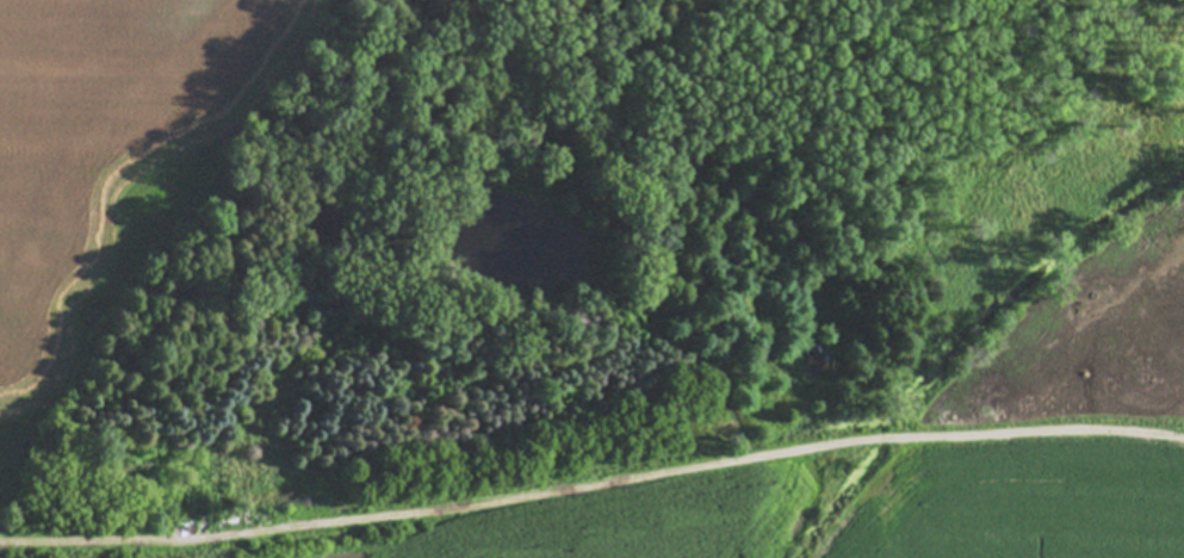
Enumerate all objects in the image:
road: (590, 478)

